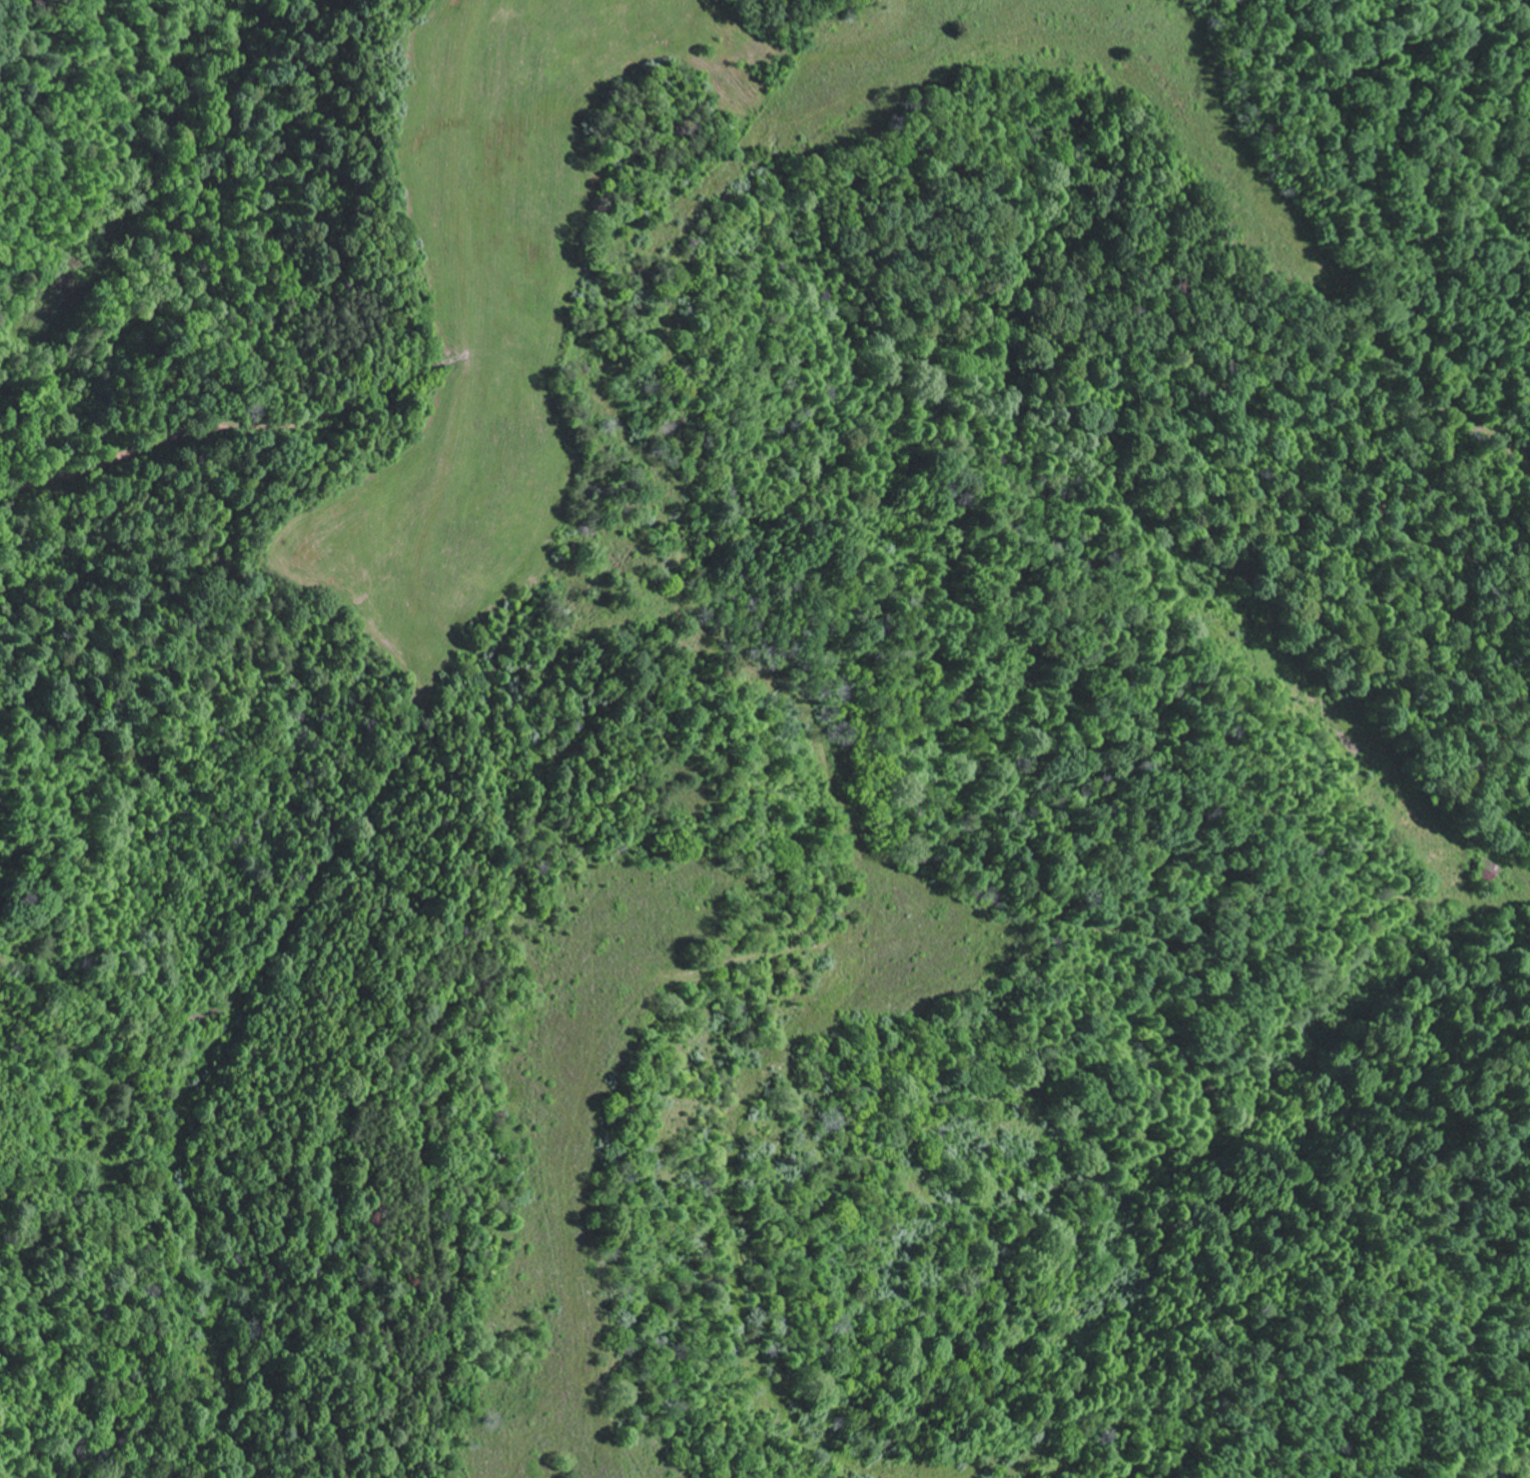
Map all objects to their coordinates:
road: (1519, 769)

